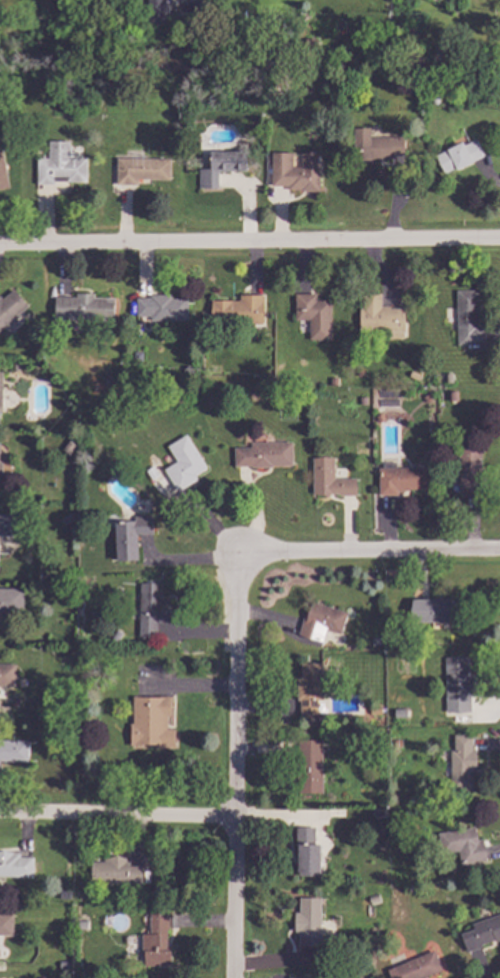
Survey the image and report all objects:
building: (156, 10)
building: (199, 22)
building: (242, 24)
building: (373, 146)
building: (458, 156)
building: (62, 165)
building: (220, 168)
building: (142, 170)
building: (296, 170)
building: (3, 173)
road: (250, 247)
building: (83, 307)
building: (10, 308)
building: (162, 308)
building: (241, 309)
building: (314, 315)
building: (380, 318)
building: (469, 322)
building: (0, 389)
building: (264, 454)
building: (181, 467)
building: (470, 472)
building: (329, 480)
building: (401, 480)
building: (7, 525)
building: (130, 537)
road: (369, 555)
building: (12, 597)
building: (151, 610)
building: (434, 611)
building: (322, 621)
building: (7, 674)
building: (457, 684)
building: (311, 688)
building: (150, 722)
building: (13, 751)
building: (461, 764)
road: (234, 767)
building: (310, 767)
road: (117, 816)
building: (462, 845)
building: (307, 849)
building: (15, 866)
building: (113, 872)
building: (308, 922)
building: (6, 924)
building: (483, 933)
building: (156, 944)
building: (417, 968)
building: (297, 976)

